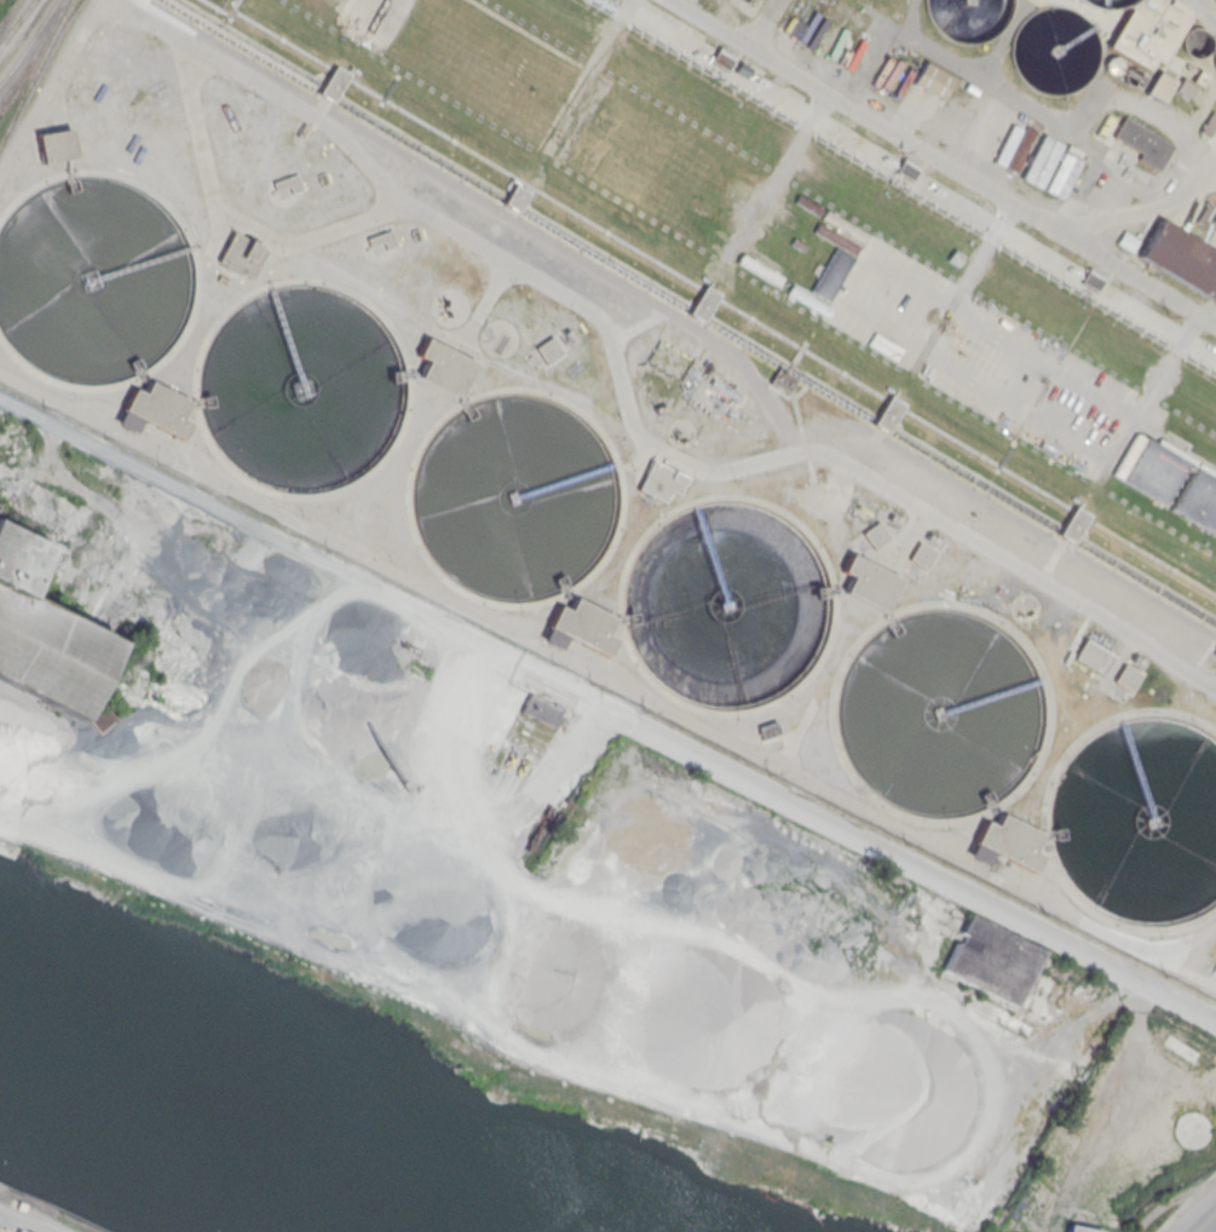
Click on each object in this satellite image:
building: (900, 0)
building: (1105, 2)
storage tank: (1105, 2)
building: (967, 17)
storage tank: (967, 17)
railway: (16, 22)
road: (761, 23)
wastewater plant: (1146, 30)
building: (1145, 31)
railway: (29, 41)
building: (1053, 50)
storage tank: (1053, 50)
building: (722, 57)
building: (1130, 76)
building: (932, 80)
building: (333, 82)
building: (1157, 85)
building: (1183, 87)
building: (760, 121)
building: (751, 140)
building: (1143, 140)
building: (56, 144)
building: (1021, 151)
road: (943, 161)
building: (1050, 165)
building: (907, 167)
building: (742, 168)
building: (848, 171)
building: (290, 183)
building: (514, 197)
building: (878, 221)
building: (385, 237)
building: (1126, 241)
building: (937, 249)
building: (243, 254)
building: (1181, 257)
building: (831, 272)
building: (1093, 278)
building: (703, 303)
building: (546, 349)
parking lot: (979, 353)
building: (443, 365)
wastewater plant: (702, 372)
building: (782, 379)
building: (159, 409)
road: (628, 410)
building: (888, 414)
road: (42, 467)
building: (661, 480)
building: (1170, 480)
road: (96, 502)
building: (1072, 524)
building: (875, 534)
road: (257, 535)
building: (921, 554)
building: (868, 582)
building: (583, 624)
building: (40, 637)
building: (1091, 656)
building: (1125, 677)
building: (538, 708)
building: (93, 719)
building: (766, 729)
building: (1010, 841)
road: (865, 842)
road: (498, 860)
building: (991, 958)
river: (243, 1126)
road: (975, 1152)
road: (1205, 1221)
building: (1078, 1228)

